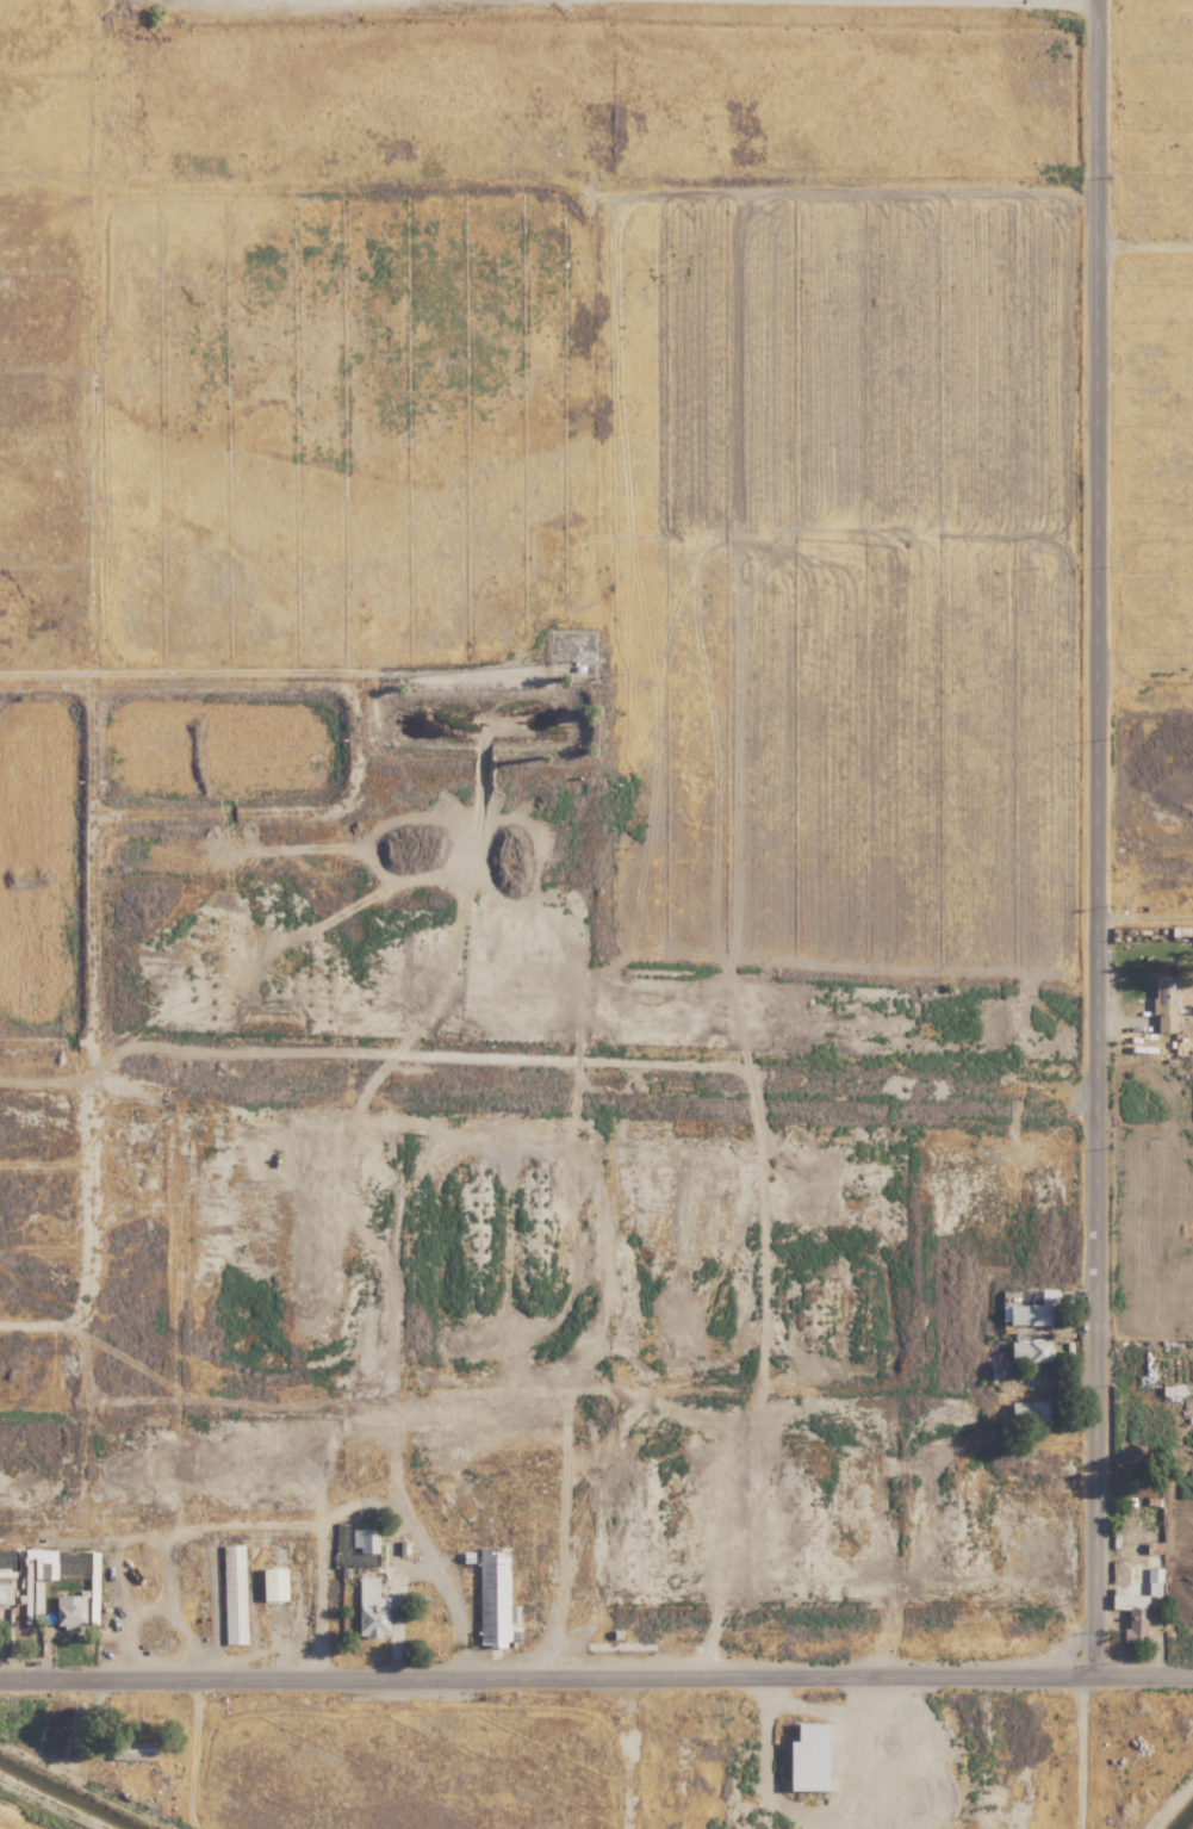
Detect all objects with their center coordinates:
road: (1148, 254)
crop: (646, 488)
road: (1105, 838)
road: (1149, 917)
building: (1162, 1003)
building: (1027, 1410)
building: (360, 1548)
building: (46, 1569)
building: (1152, 1574)
building: (77, 1579)
building: (271, 1583)
building: (5, 1593)
building: (231, 1593)
building: (32, 1600)
building: (493, 1600)
building: (362, 1607)
building: (68, 1610)
building: (1130, 1613)
road: (596, 1676)
building: (130, 1750)
building: (803, 1757)

